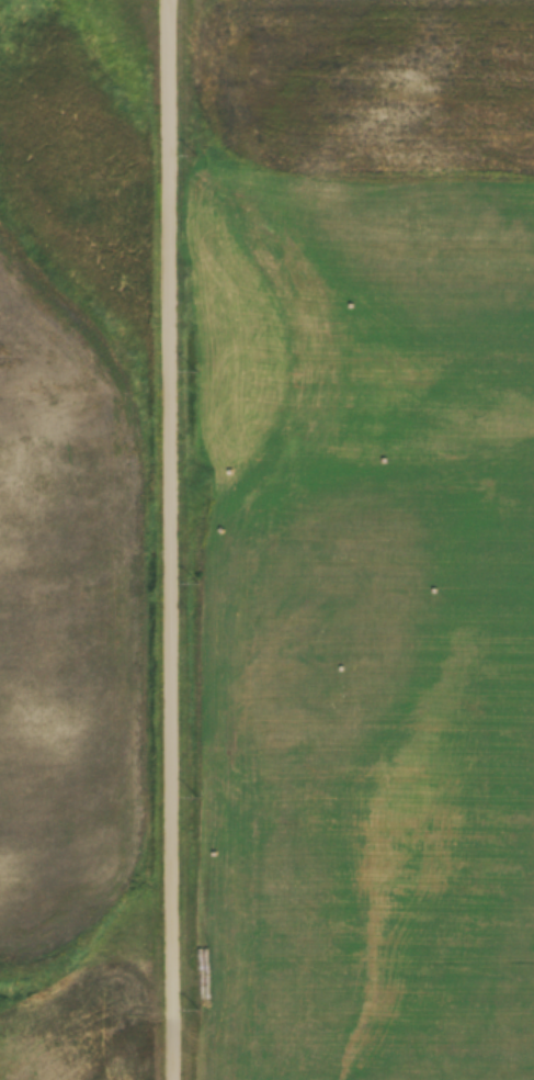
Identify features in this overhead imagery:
road: (170, 540)

